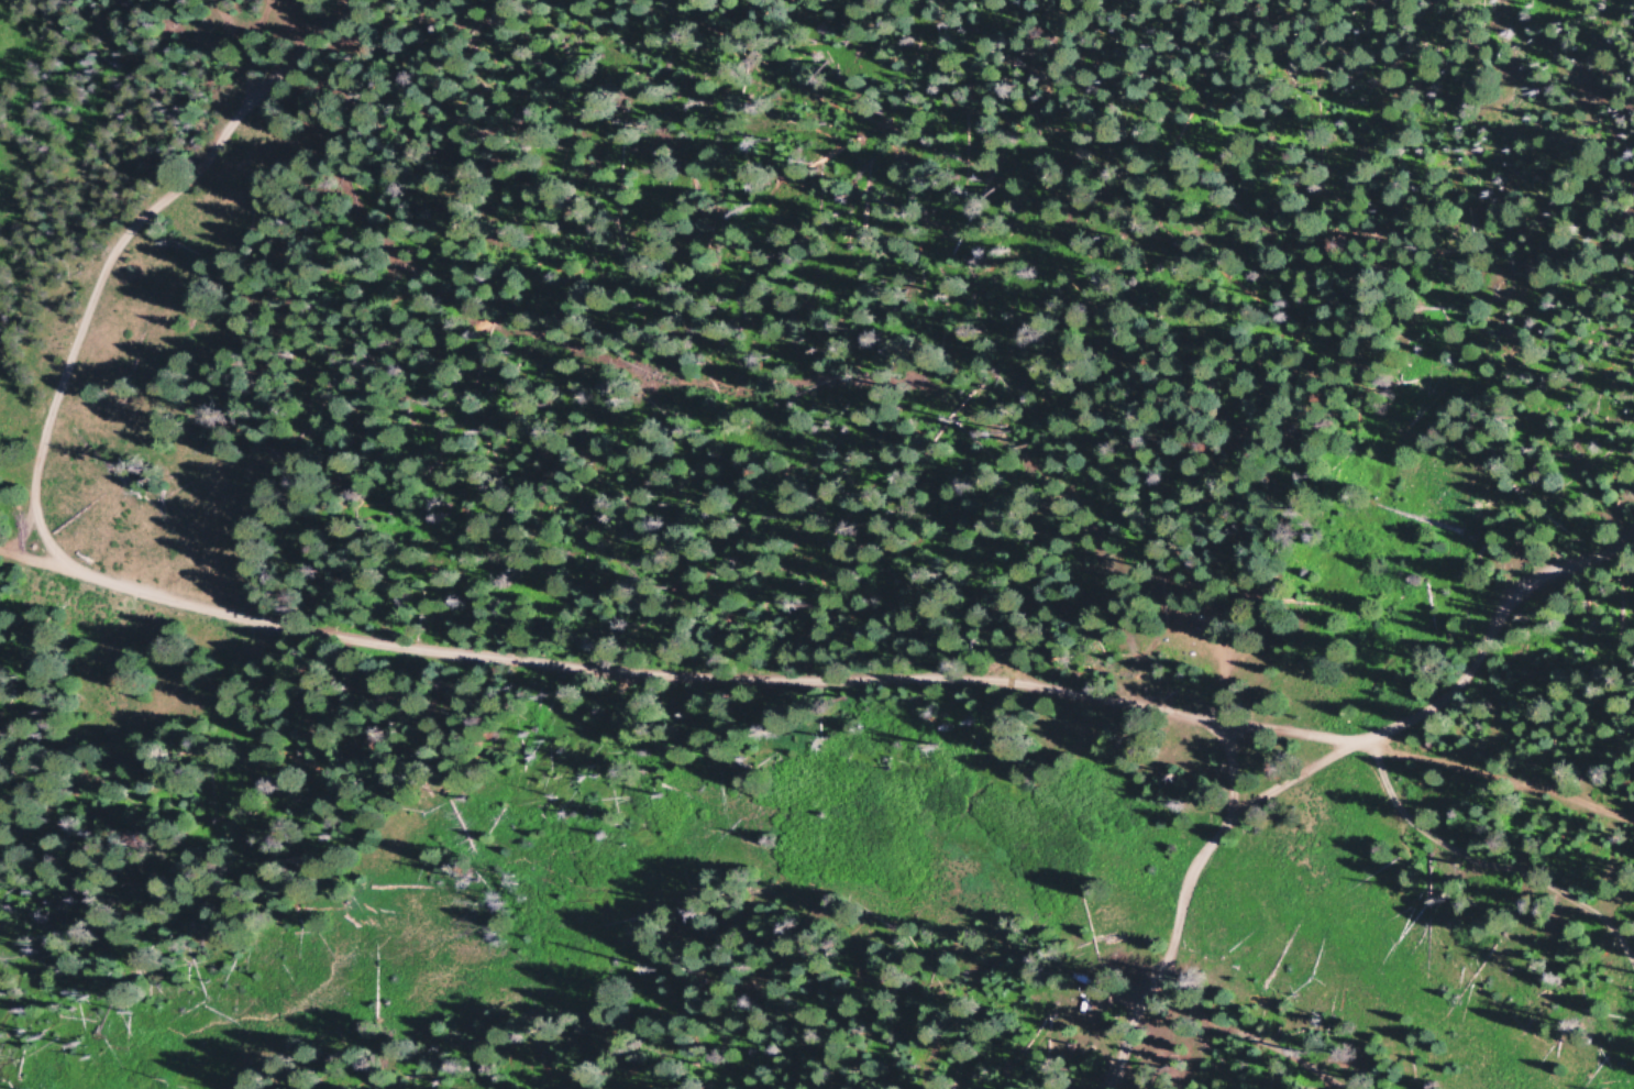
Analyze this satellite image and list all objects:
road: (156, 206)
road: (718, 411)
road: (5, 448)
road: (1575, 659)
road: (832, 710)
road: (1483, 867)
road: (1190, 881)

